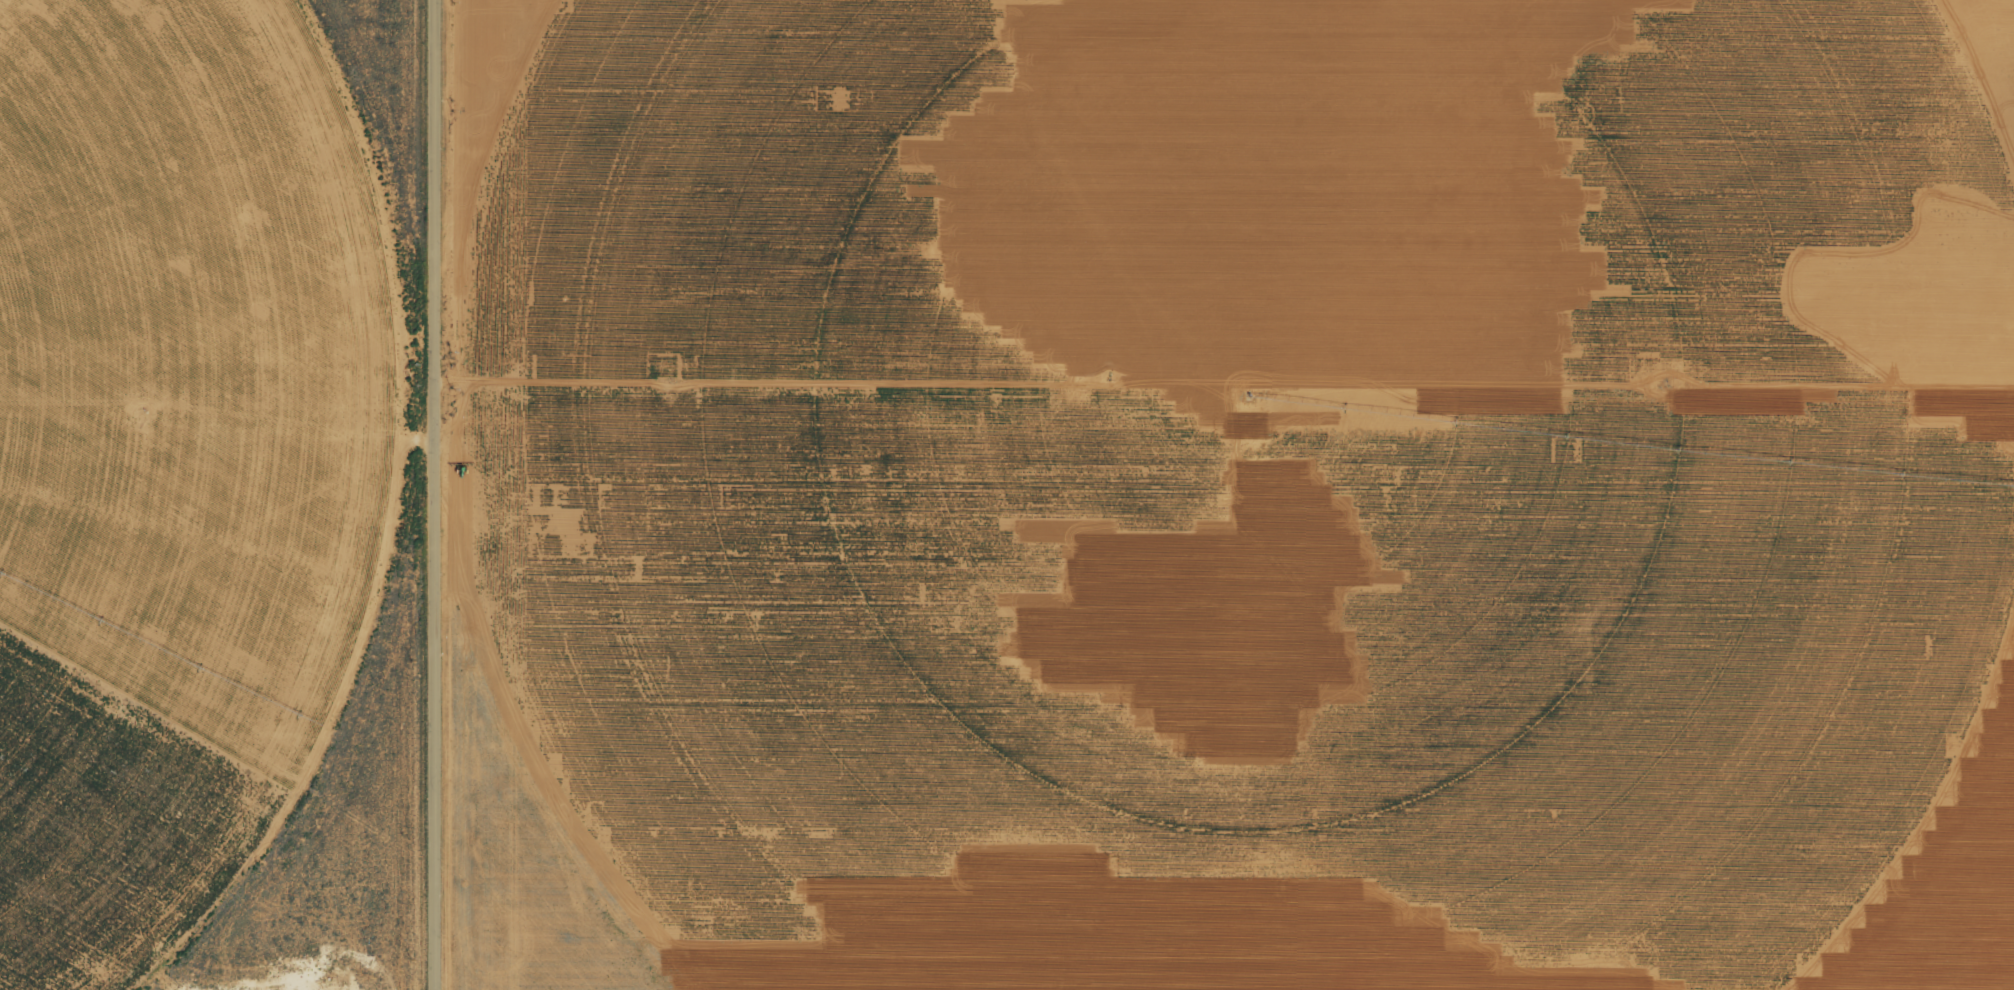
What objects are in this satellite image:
road: (432, 495)

